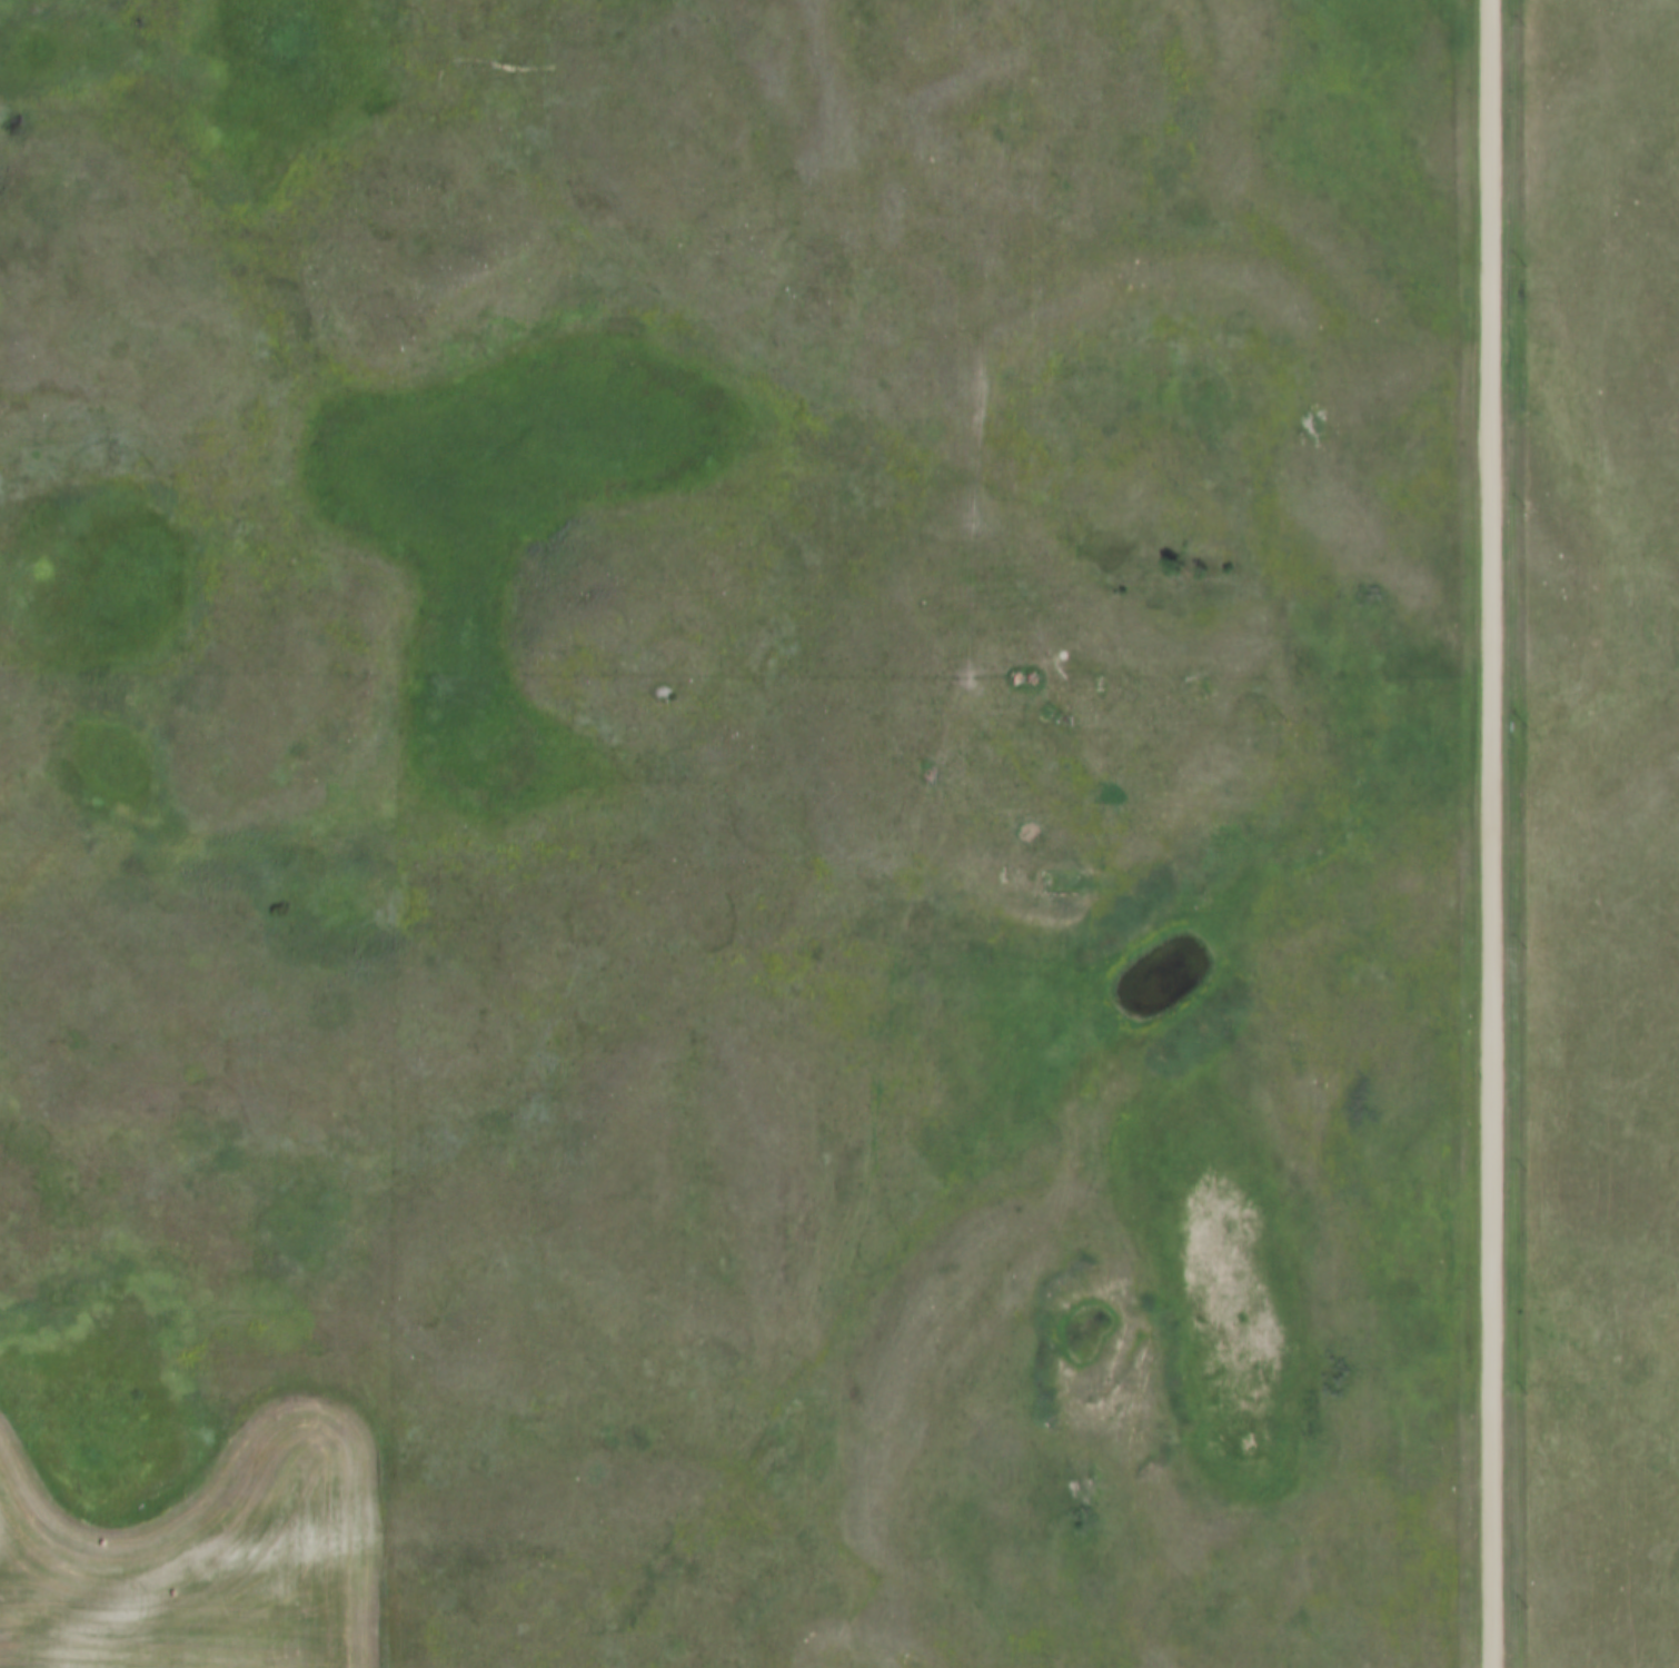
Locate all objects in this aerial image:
road: (1493, 833)

